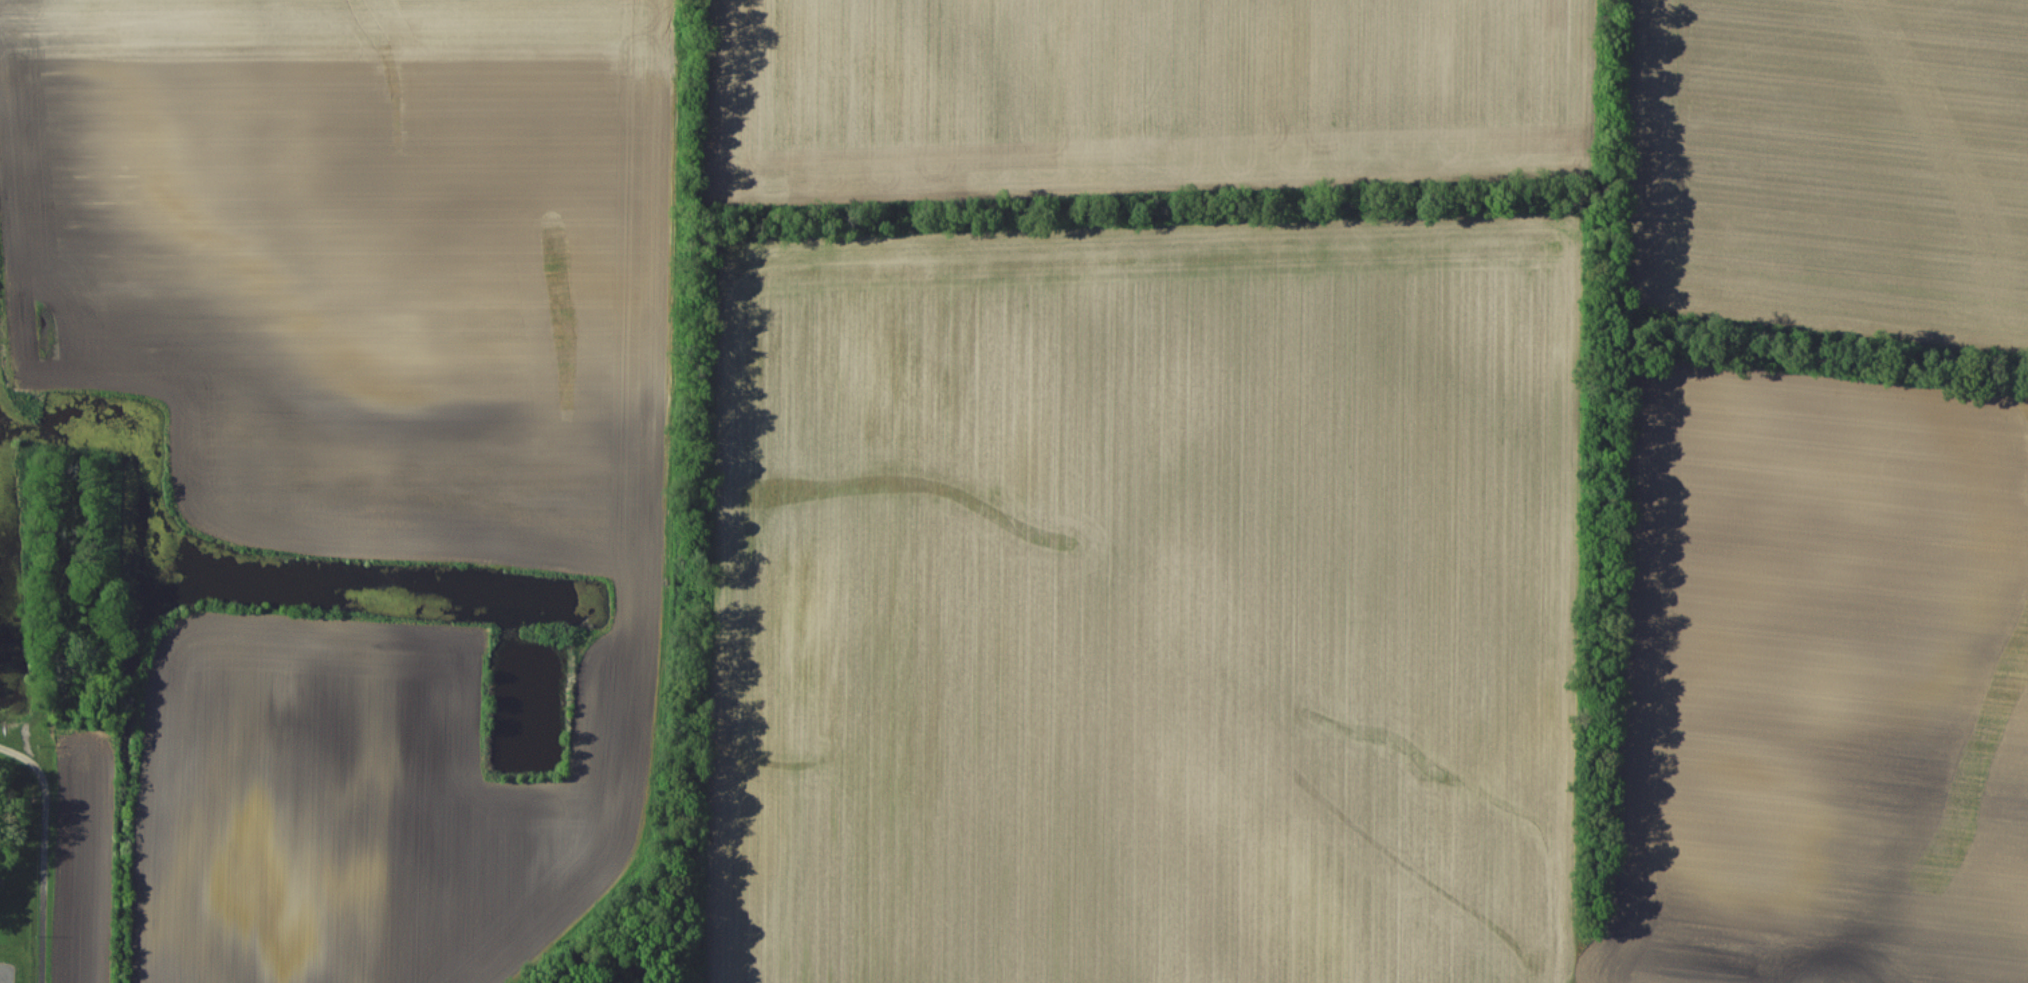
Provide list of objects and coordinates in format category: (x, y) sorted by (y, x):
road: (52, 848)

